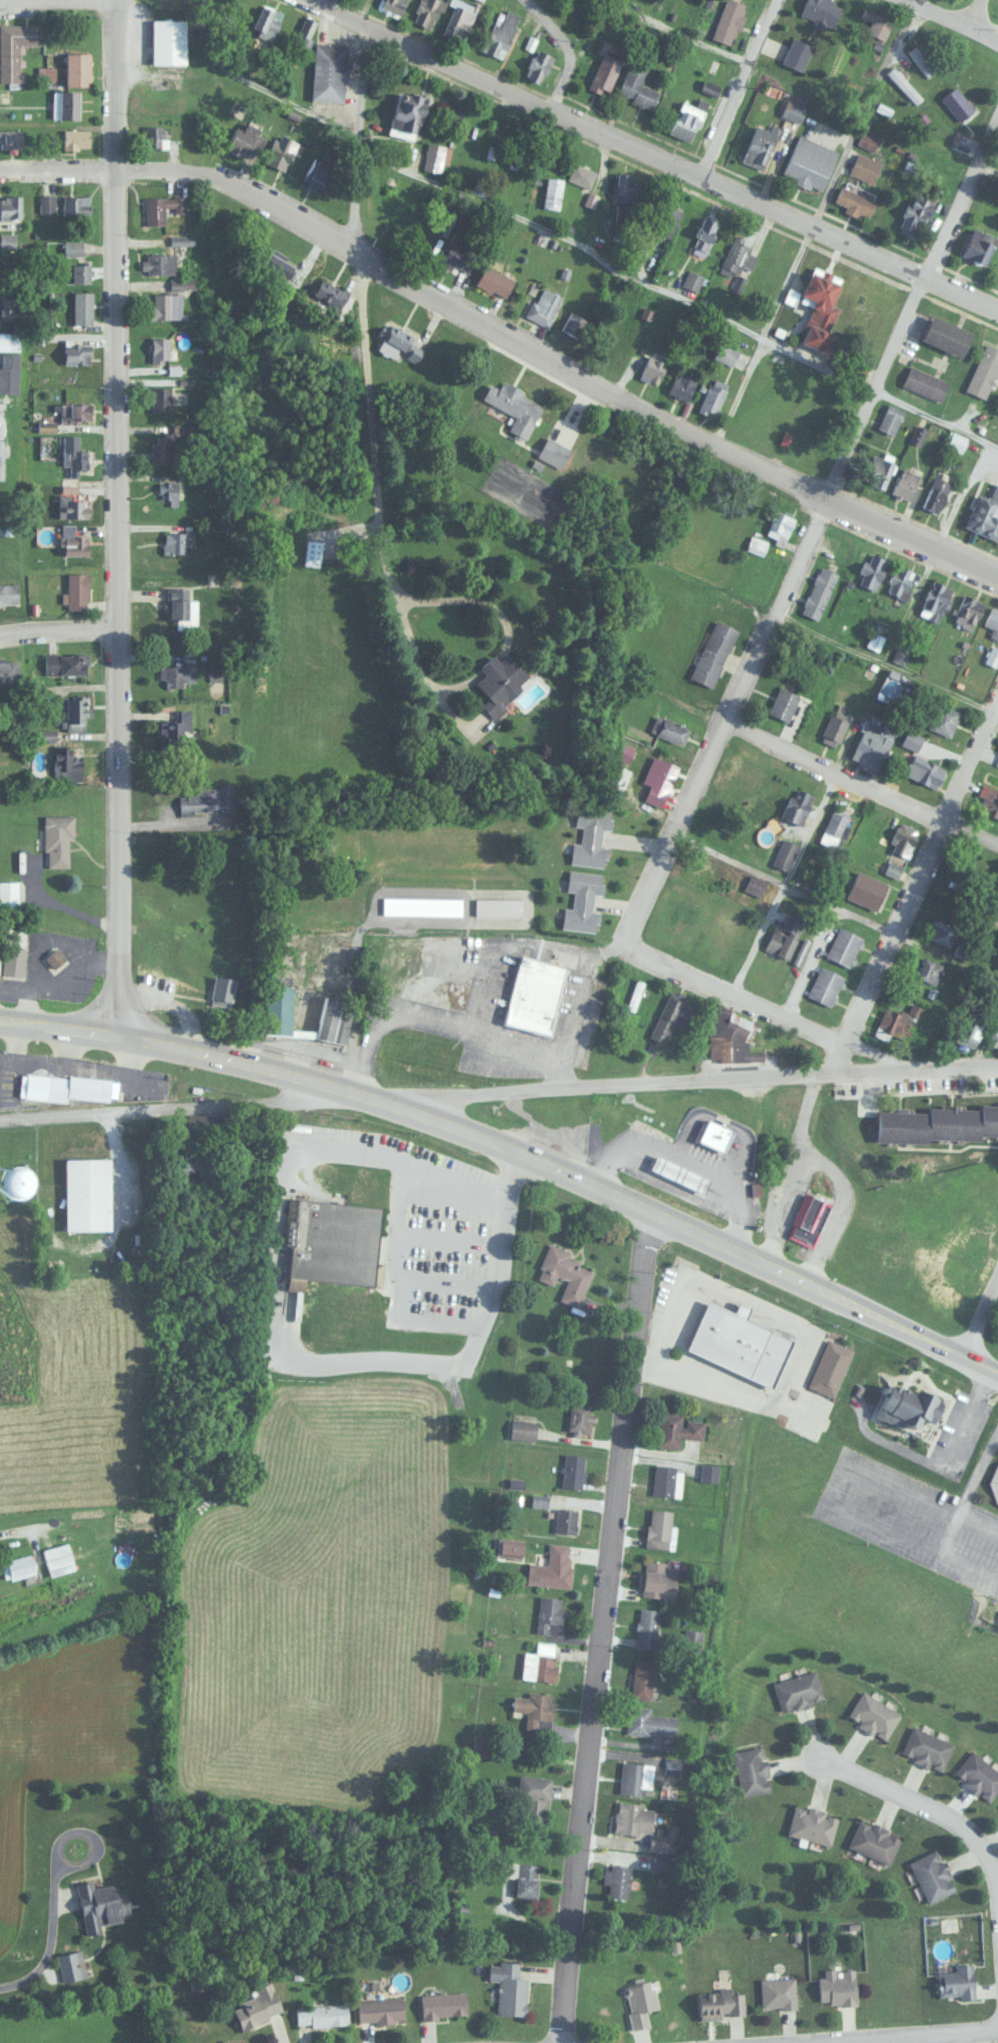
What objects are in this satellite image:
building: (480, 0)
building: (657, 0)
road: (56, 2)
building: (393, 5)
building: (818, 11)
building: (427, 12)
road: (975, 15)
building: (459, 20)
building: (727, 20)
building: (269, 21)
road: (951, 21)
building: (876, 23)
building: (305, 30)
building: (501, 33)
building: (168, 41)
building: (13, 48)
road: (565, 48)
building: (796, 53)
building: (921, 61)
building: (539, 65)
building: (77, 69)
building: (329, 72)
building: (604, 73)
road: (112, 84)
building: (902, 85)
building: (636, 87)
road: (734, 89)
building: (956, 103)
building: (66, 104)
building: (407, 115)
building: (686, 120)
building: (153, 136)
building: (12, 137)
building: (76, 139)
building: (869, 139)
building: (241, 141)
building: (759, 144)
building: (279, 155)
building: (434, 157)
road: (654, 159)
building: (809, 163)
building: (864, 168)
road: (984, 171)
building: (319, 173)
building: (580, 174)
building: (625, 189)
building: (552, 192)
building: (854, 202)
building: (62, 204)
building: (9, 207)
building: (162, 207)
building: (916, 213)
building: (666, 219)
road: (809, 229)
building: (706, 232)
building: (183, 239)
building: (8, 240)
building: (978, 245)
building: (72, 247)
building: (458, 256)
building: (735, 257)
road: (598, 261)
building: (158, 263)
building: (774, 263)
building: (267, 265)
building: (80, 272)
building: (693, 280)
building: (495, 281)
building: (184, 283)
building: (331, 297)
building: (821, 304)
building: (165, 305)
building: (543, 305)
building: (82, 307)
building: (14, 308)
road: (910, 310)
road: (357, 317)
building: (573, 323)
building: (948, 335)
building: (9, 340)
building: (392, 340)
road: (504, 343)
building: (160, 349)
building: (726, 352)
building: (76, 353)
building: (984, 370)
building: (652, 371)
building: (9, 373)
building: (925, 382)
building: (682, 385)
building: (715, 395)
building: (160, 398)
building: (515, 406)
building: (75, 412)
building: (891, 418)
building: (957, 442)
building: (159, 452)
building: (553, 452)
building: (74, 453)
building: (905, 483)
park: (522, 489)
building: (171, 492)
building: (937, 494)
building: (73, 504)
building: (985, 514)
building: (779, 531)
building: (178, 541)
building: (73, 542)
building: (756, 545)
building: (872, 570)
building: (902, 582)
building: (77, 591)
building: (819, 592)
building: (9, 593)
road: (114, 601)
building: (935, 601)
building: (181, 609)
building: (967, 610)
building: (992, 618)
road: (56, 629)
building: (713, 653)
building: (899, 655)
building: (990, 657)
road: (885, 661)
building: (65, 663)
building: (178, 672)
building: (9, 673)
building: (501, 681)
road: (426, 690)
building: (783, 703)
building: (76, 713)
building: (941, 719)
building: (174, 727)
building: (834, 727)
building: (668, 729)
road: (722, 731)
building: (912, 740)
building: (871, 746)
building: (66, 766)
building: (925, 772)
building: (658, 780)
road: (860, 790)
building: (199, 799)
building: (989, 800)
building: (797, 805)
building: (834, 827)
building: (591, 836)
building: (903, 839)
building: (57, 840)
building: (785, 854)
building: (702, 863)
building: (892, 869)
road: (919, 872)
building: (754, 885)
road: (786, 889)
building: (867, 891)
building: (9, 894)
building: (582, 901)
building: (422, 905)
building: (498, 907)
road: (835, 908)
building: (682, 911)
building: (941, 934)
building: (784, 936)
building: (844, 946)
road: (508, 947)
building: (13, 953)
building: (154, 957)
building: (55, 958)
building: (928, 970)
building: (825, 986)
building: (221, 990)
building: (634, 995)
building: (534, 996)
road: (571, 1008)
road: (767, 1010)
building: (280, 1014)
building: (670, 1017)
building: (899, 1020)
building: (332, 1021)
road: (436, 1023)
building: (968, 1033)
building: (731, 1038)
road: (684, 1083)
building: (66, 1087)
road: (185, 1105)
building: (940, 1122)
building: (716, 1134)
road: (513, 1151)
road: (791, 1151)
building: (680, 1172)
water tower: (7, 1179)
building: (88, 1193)
building: (808, 1218)
building: (332, 1240)
building: (970, 1253)
building: (564, 1272)
road: (981, 1322)
building: (740, 1340)
building: (830, 1365)
road: (343, 1372)
building: (908, 1404)
building: (579, 1419)
building: (523, 1428)
building: (677, 1428)
building: (573, 1469)
building: (708, 1472)
building: (667, 1480)
building: (995, 1482)
road: (971, 1485)
parking lot: (910, 1514)
building: (565, 1519)
building: (660, 1527)
road: (16, 1548)
building: (511, 1549)
building: (59, 1558)
building: (19, 1566)
building: (551, 1567)
building: (658, 1579)
building: (549, 1615)
building: (646, 1626)
road: (601, 1631)
building: (538, 1662)
building: (642, 1677)
building: (798, 1691)
building: (535, 1709)
building: (873, 1715)
building: (648, 1721)
building: (481, 1744)
building: (926, 1748)
building: (751, 1770)
building: (978, 1775)
building: (635, 1777)
building: (534, 1799)
road: (920, 1817)
building: (634, 1818)
building: (812, 1824)
building: (874, 1840)
building: (658, 1843)
building: (932, 1875)
building: (524, 1877)
building: (617, 1879)
building: (101, 1905)
building: (958, 1982)
building: (509, 1987)
building: (838, 1987)
building: (778, 1993)
building: (640, 2003)
building: (720, 2003)
building: (443, 2004)
building: (257, 2006)
building: (380, 2009)
building: (321, 2014)
road: (876, 2036)
building: (224, 2042)

